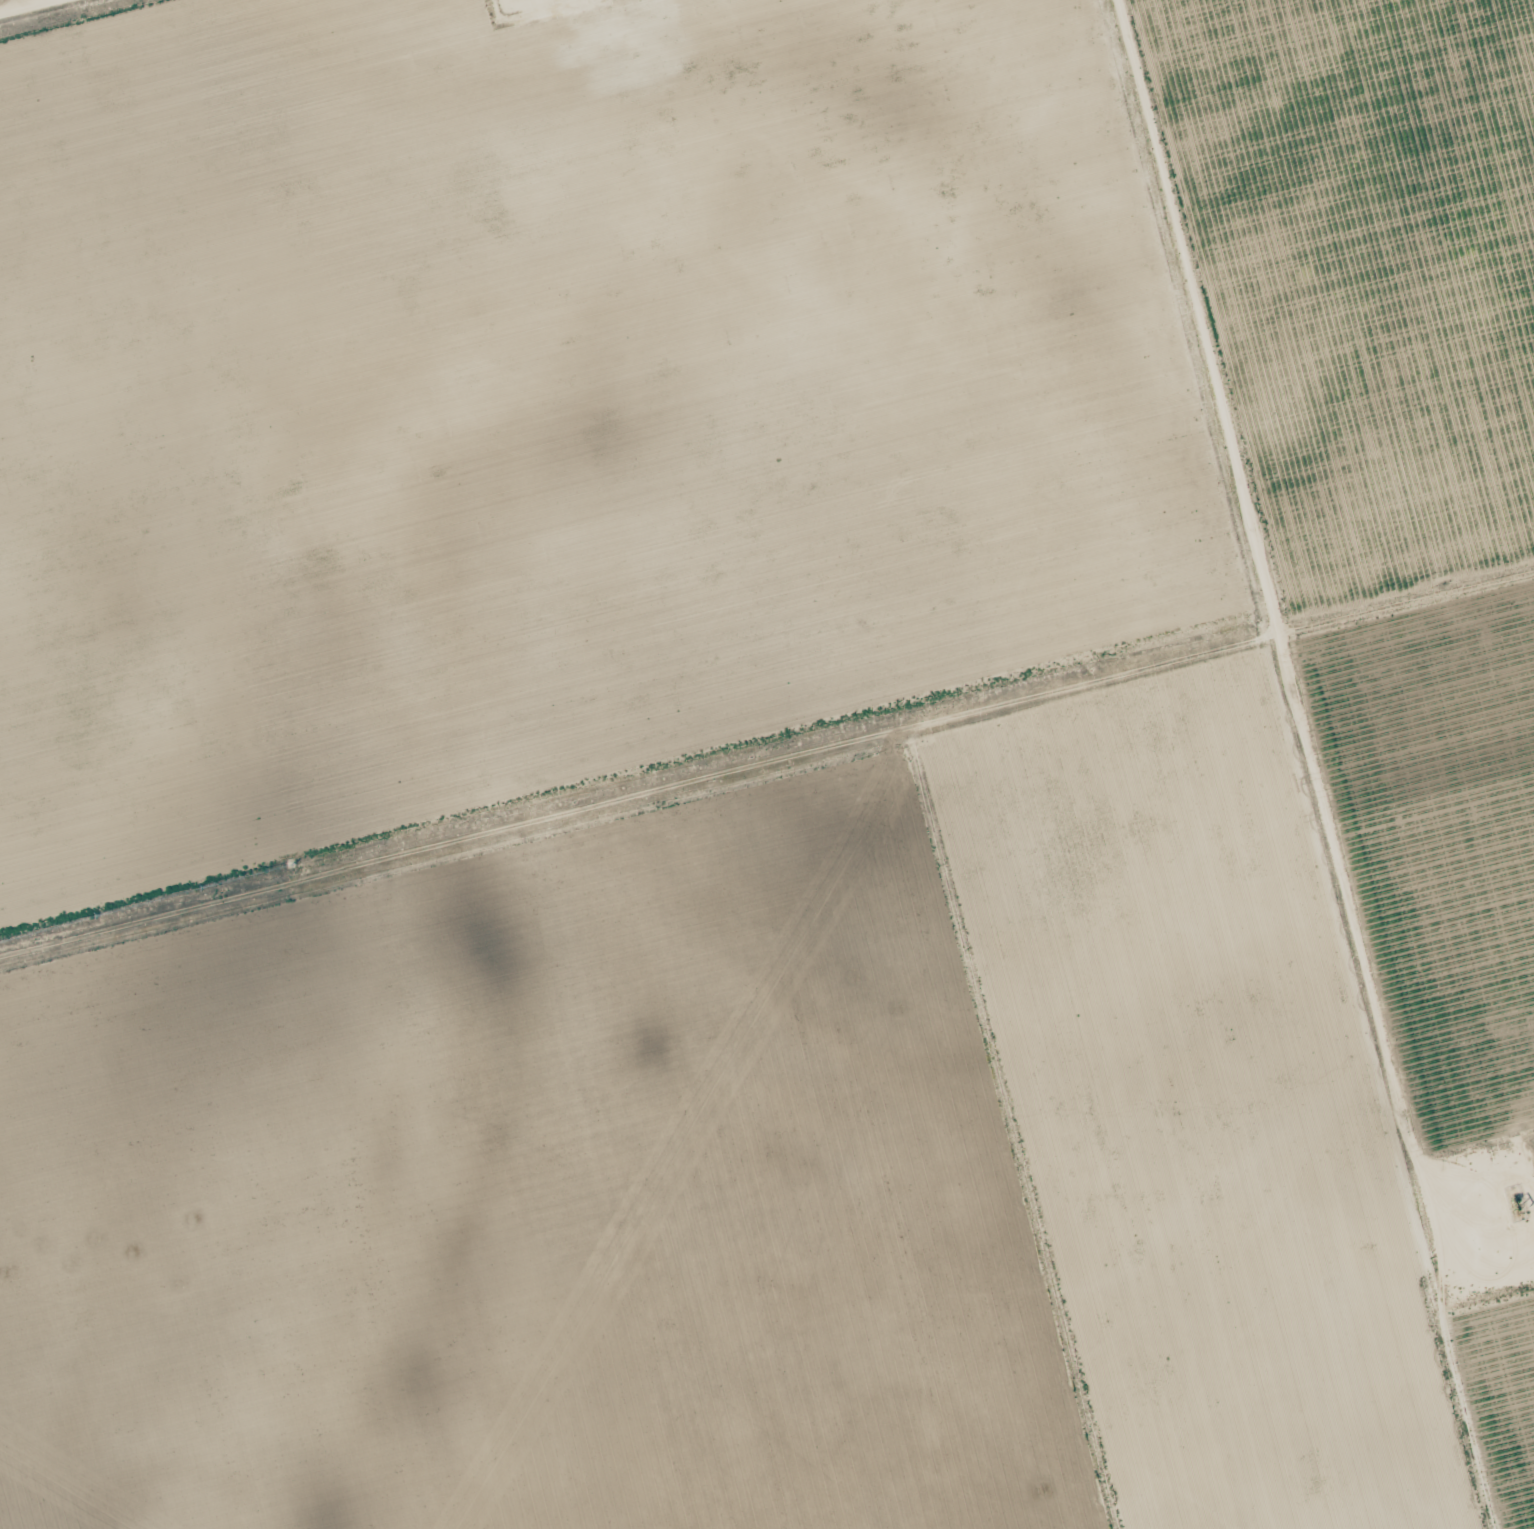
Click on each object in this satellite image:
road: (1284, 644)

